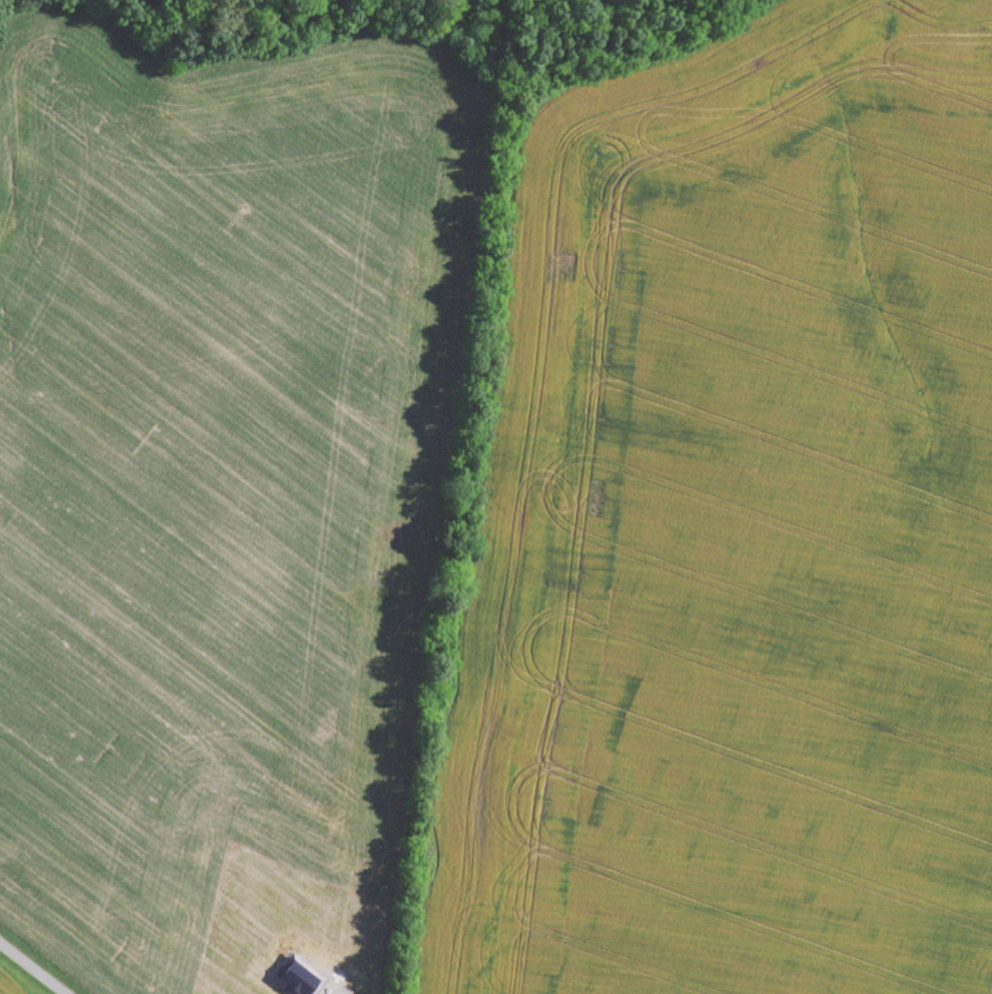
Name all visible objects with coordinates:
road: (31, 969)
building: (301, 975)

